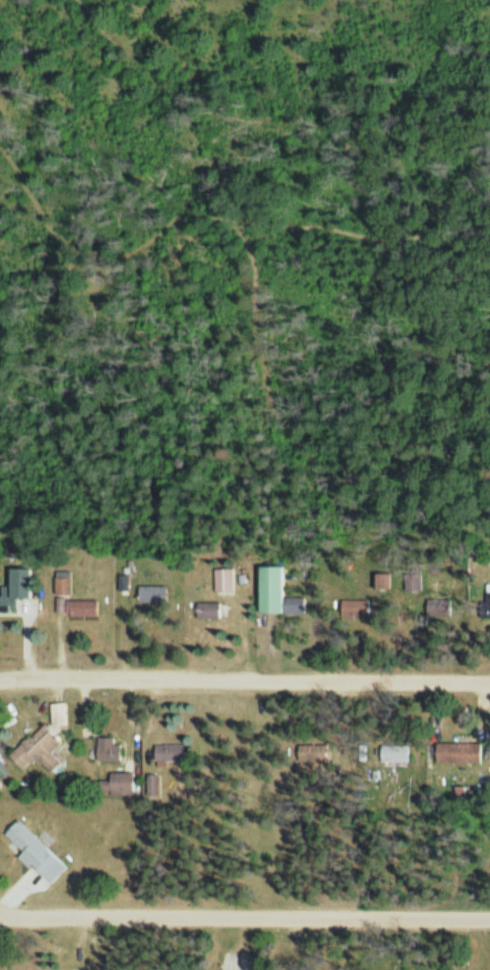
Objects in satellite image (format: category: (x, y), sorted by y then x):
building: (379, 579)
building: (60, 581)
building: (13, 587)
building: (270, 589)
building: (149, 592)
building: (350, 606)
building: (79, 607)
building: (205, 608)
road: (244, 681)
building: (36, 748)
building: (106, 748)
building: (168, 751)
building: (393, 751)
building: (455, 751)
building: (305, 752)
building: (115, 783)
building: (149, 784)
building: (34, 851)
road: (245, 916)

